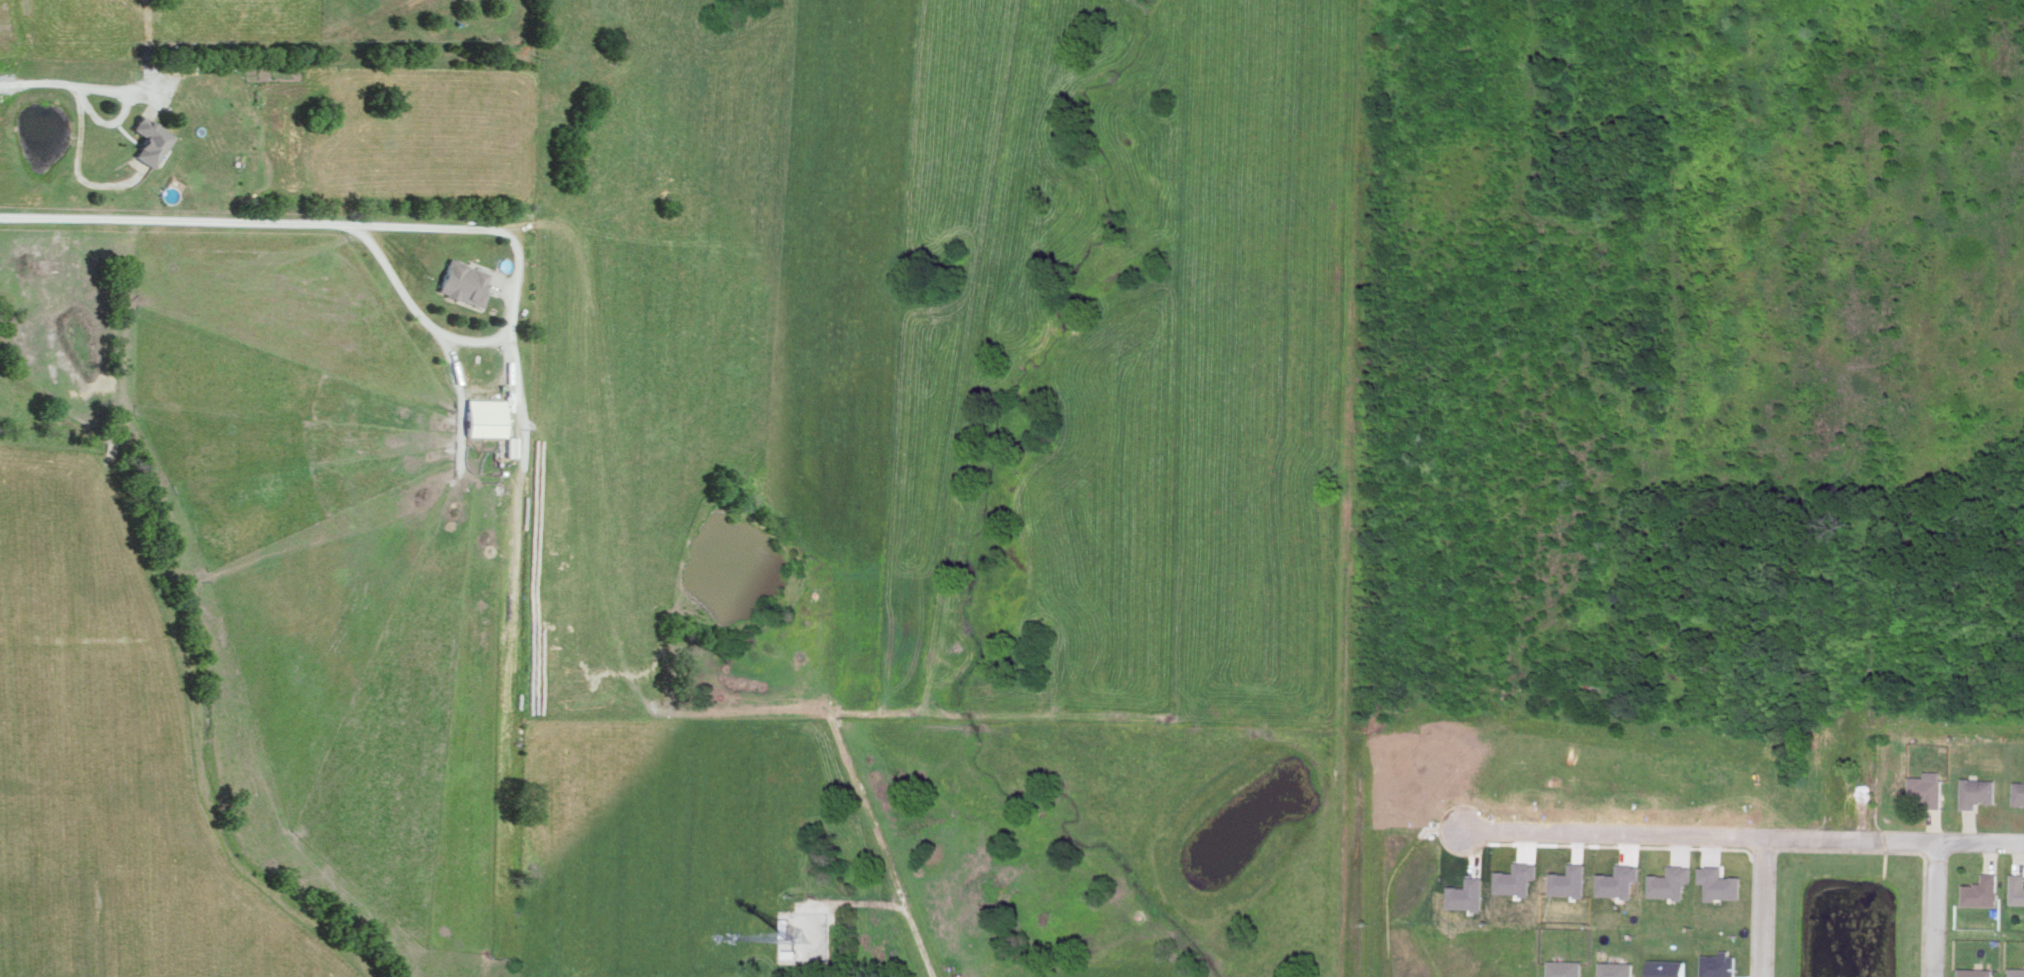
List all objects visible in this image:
road: (38, 82)
road: (122, 114)
building: (150, 139)
road: (169, 220)
building: (464, 282)
road: (508, 310)
building: (486, 416)
building: (511, 445)
railway: (1347, 488)
road: (696, 716)
building: (1928, 788)
building: (1978, 791)
building: (2019, 793)
road: (1611, 835)
road: (1849, 840)
road: (1979, 842)
road: (875, 846)
building: (1517, 877)
building: (1569, 879)
building: (1619, 880)
building: (1671, 881)
building: (1720, 882)
building: (2017, 887)
building: (1982, 890)
building: (1467, 893)
road: (853, 901)
road: (1762, 908)
road: (1932, 909)
building: (784, 928)
building: (789, 953)
building: (1720, 964)
building: (1566, 968)
building: (1617, 968)
building: (1669, 968)
building: (2016, 971)
building: (1975, 972)

